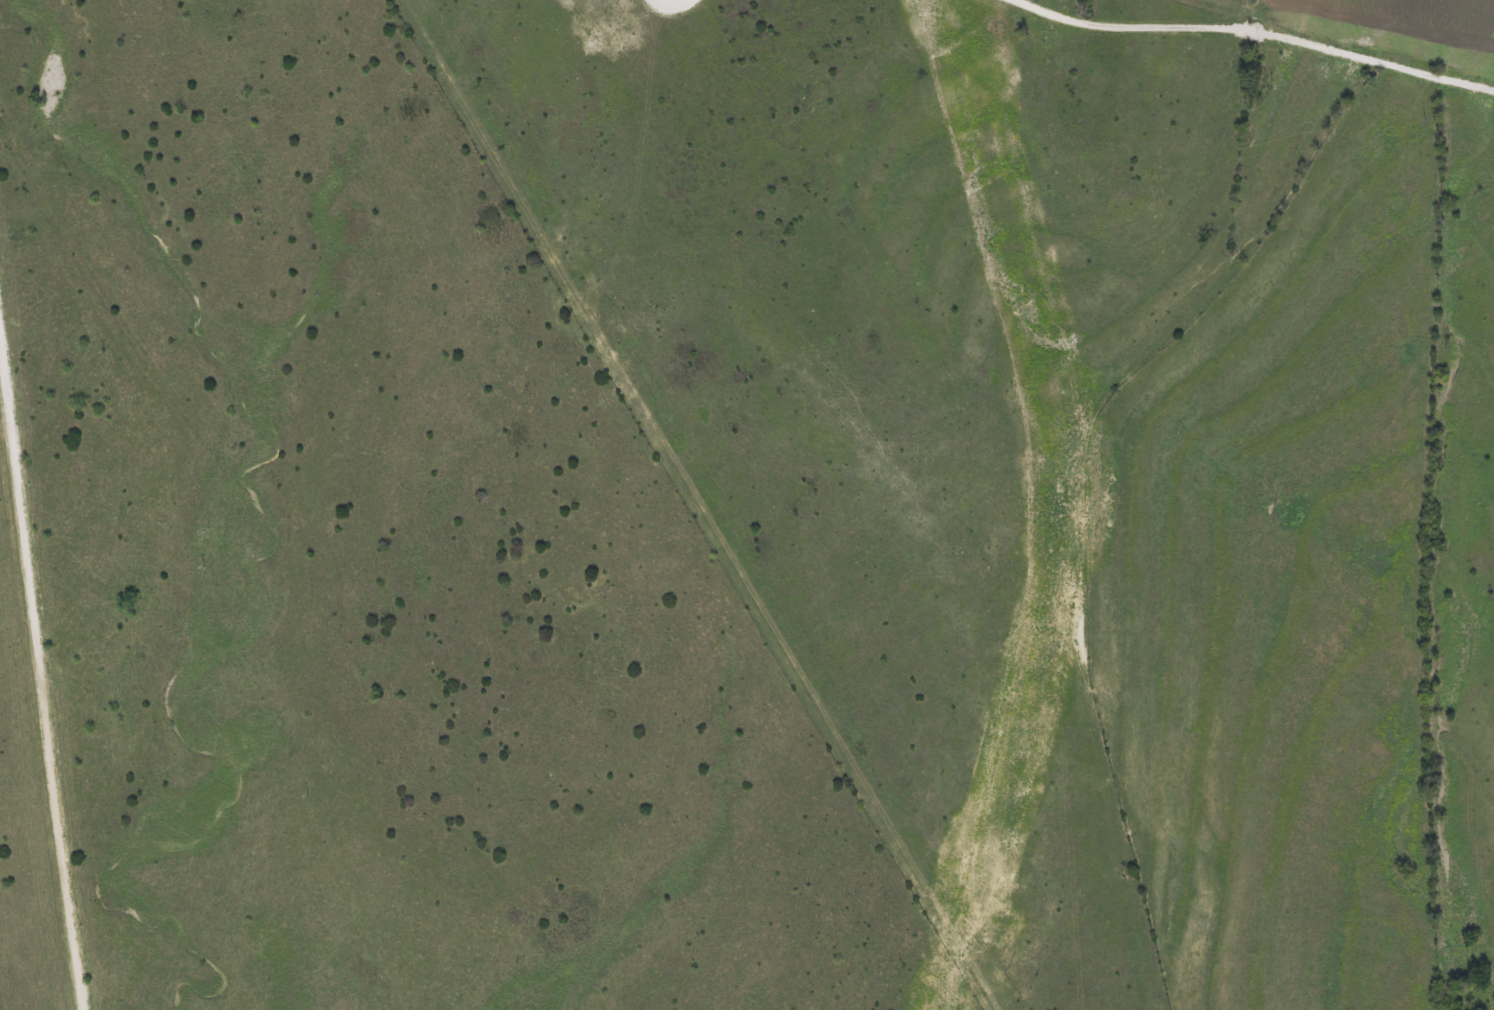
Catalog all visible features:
road: (668, 5)
road: (1254, 32)
road: (38, 680)

